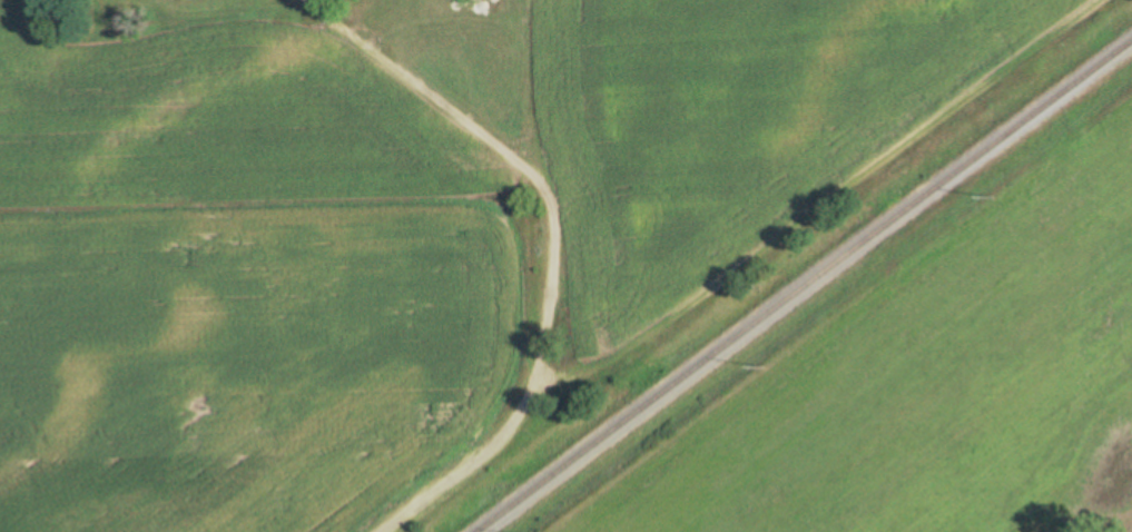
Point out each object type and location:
road: (548, 244)
railway: (803, 284)

